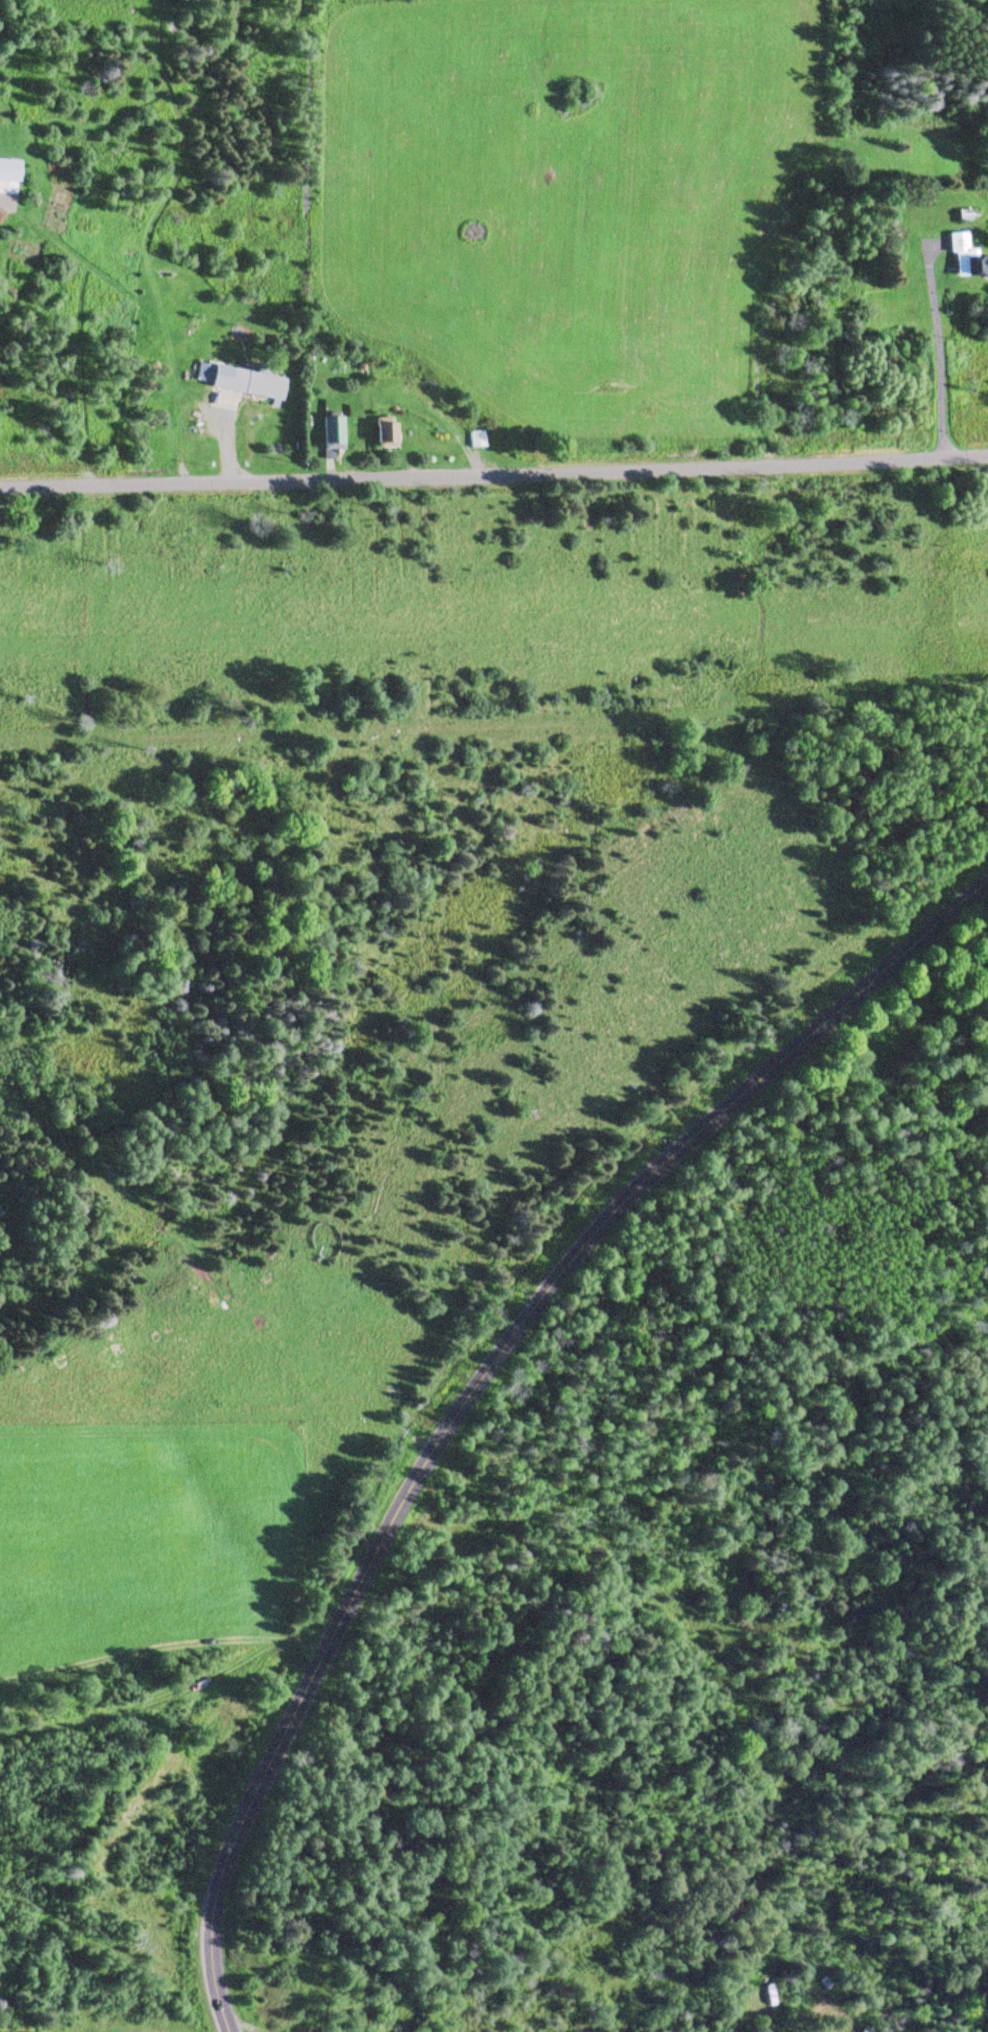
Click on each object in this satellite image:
building: (962, 260)
building: (251, 379)
building: (393, 432)
building: (337, 434)
building: (480, 437)
road: (494, 492)
road: (470, 1380)

